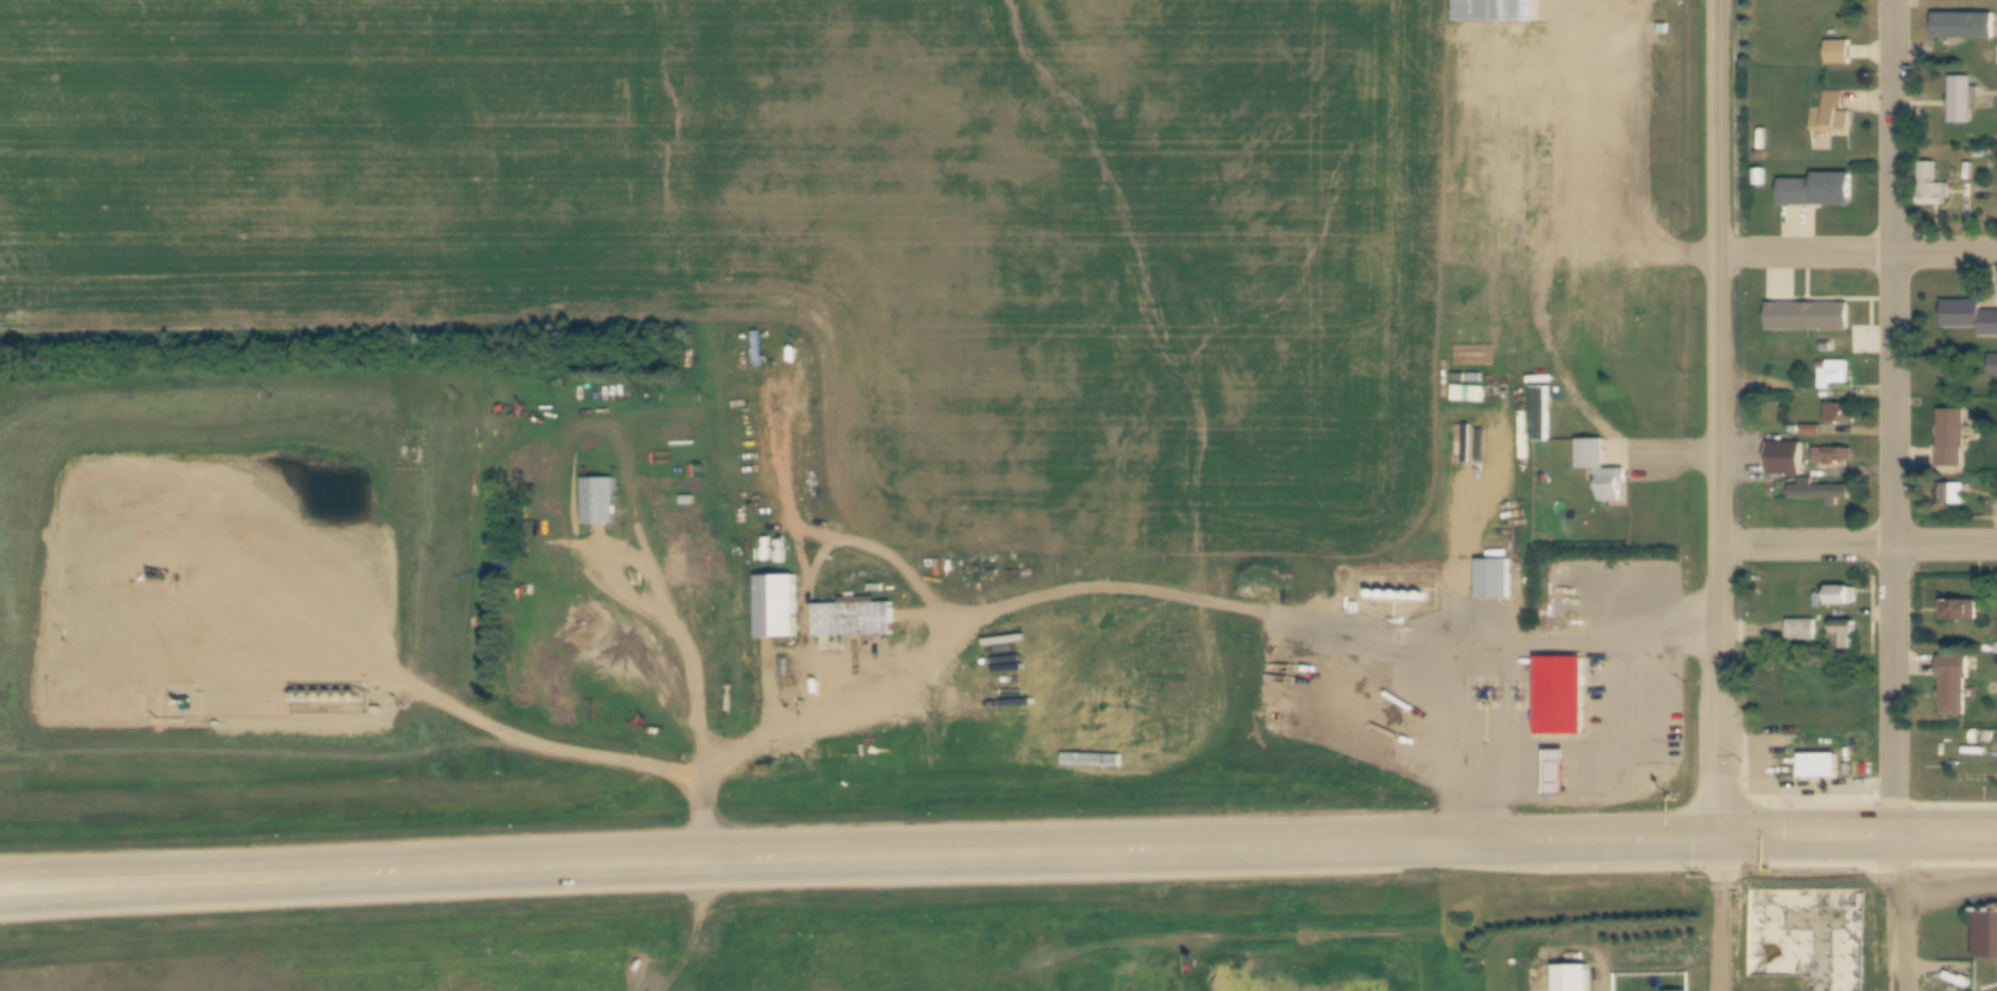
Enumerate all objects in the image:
building: (1499, 11)
building: (1966, 23)
building: (1840, 51)
building: (1522, 54)
building: (1964, 102)
building: (1480, 114)
building: (1835, 115)
building: (1460, 116)
building: (1473, 147)
building: (1476, 168)
road: (1563, 170)
building: (1763, 178)
building: (1477, 183)
building: (1932, 186)
building: (1820, 192)
building: (1478, 207)
building: (1474, 247)
road: (1858, 256)
building: (1474, 262)
building: (1811, 318)
building: (1971, 318)
building: (1830, 346)
building: (1994, 362)
building: (1836, 375)
building: (1471, 394)
building: (1836, 414)
road: (1594, 415)
building: (1544, 417)
road: (1893, 419)
road: (1720, 421)
building: (1814, 431)
building: (1953, 438)
road: (1683, 451)
building: (1834, 455)
building: (1772, 459)
building: (1788, 459)
building: (1604, 472)
building: (1822, 493)
building: (1953, 495)
building: (596, 507)
building: (353, 539)
road: (1859, 544)
building: (680, 563)
building: (1497, 581)
storage tank: (1378, 594)
storage tank: (1389, 594)
storage tank: (1401, 594)
storage tank: (1413, 594)
storage tank: (1424, 594)
building: (1843, 597)
building: (1357, 608)
building: (771, 610)
building: (1961, 611)
building: (853, 620)
building: (1996, 620)
building: (1805, 631)
building: (1848, 635)
road: (1499, 641)
building: (1956, 685)
road: (698, 694)
building: (1563, 698)
road: (757, 740)
building: (1976, 752)
road: (1607, 762)
building: (1561, 769)
building: (1822, 769)
road: (1860, 840)
road: (1046, 848)
road: (1885, 864)
road: (183, 868)
road: (184, 888)
building: (1813, 903)
road: (1855, 908)
road: (1728, 916)
building: (1987, 938)
building: (1808, 940)
road: (1602, 973)
building: (1574, 980)

